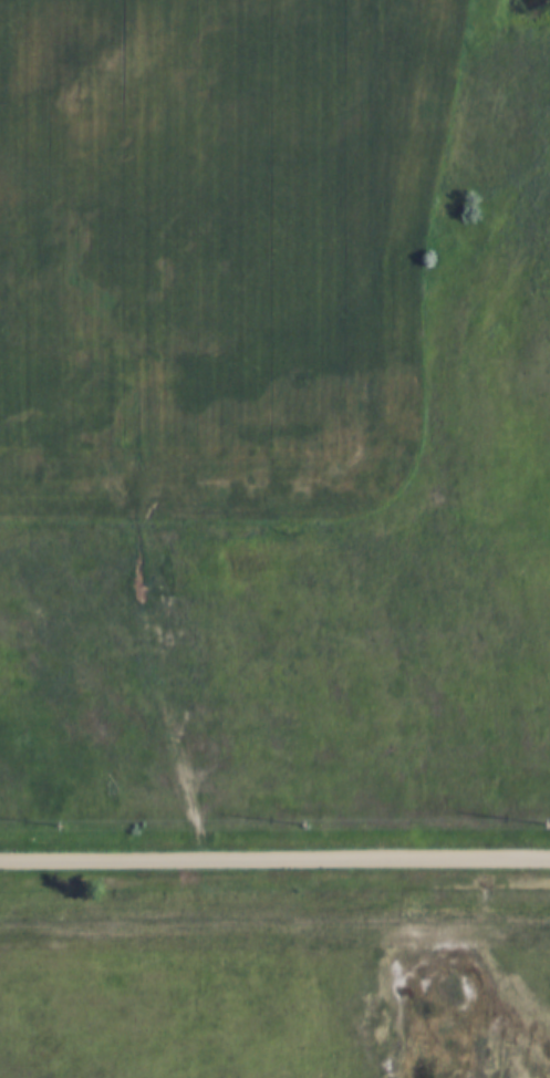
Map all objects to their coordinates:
road: (274, 859)

